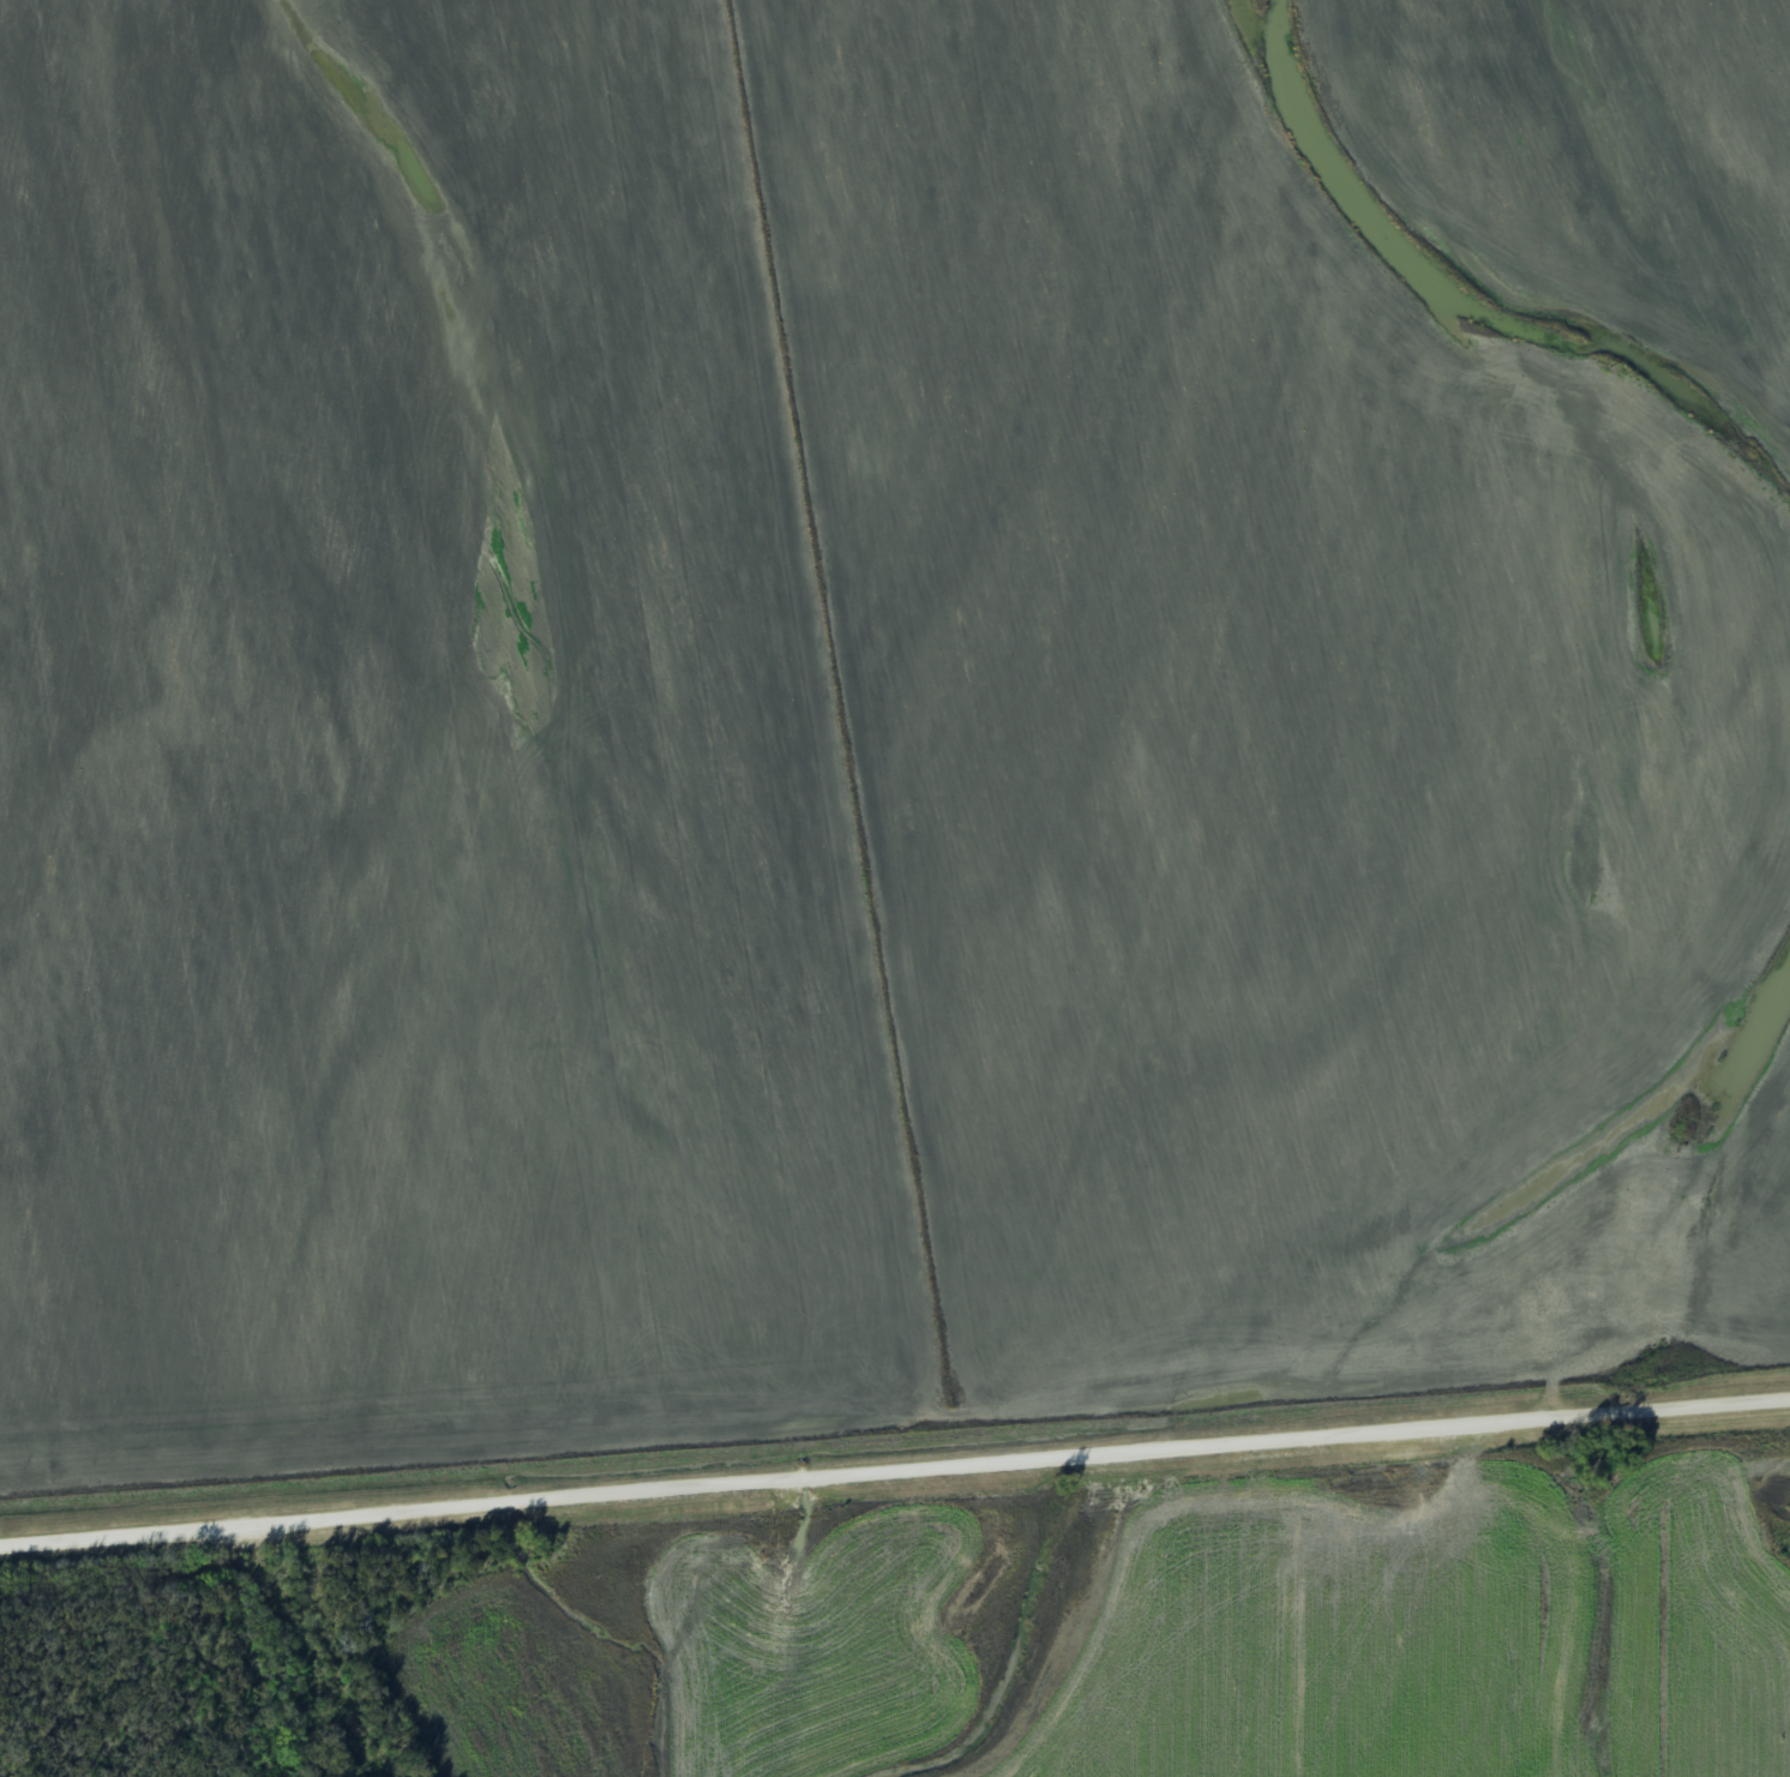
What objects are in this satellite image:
road: (895, 1473)

